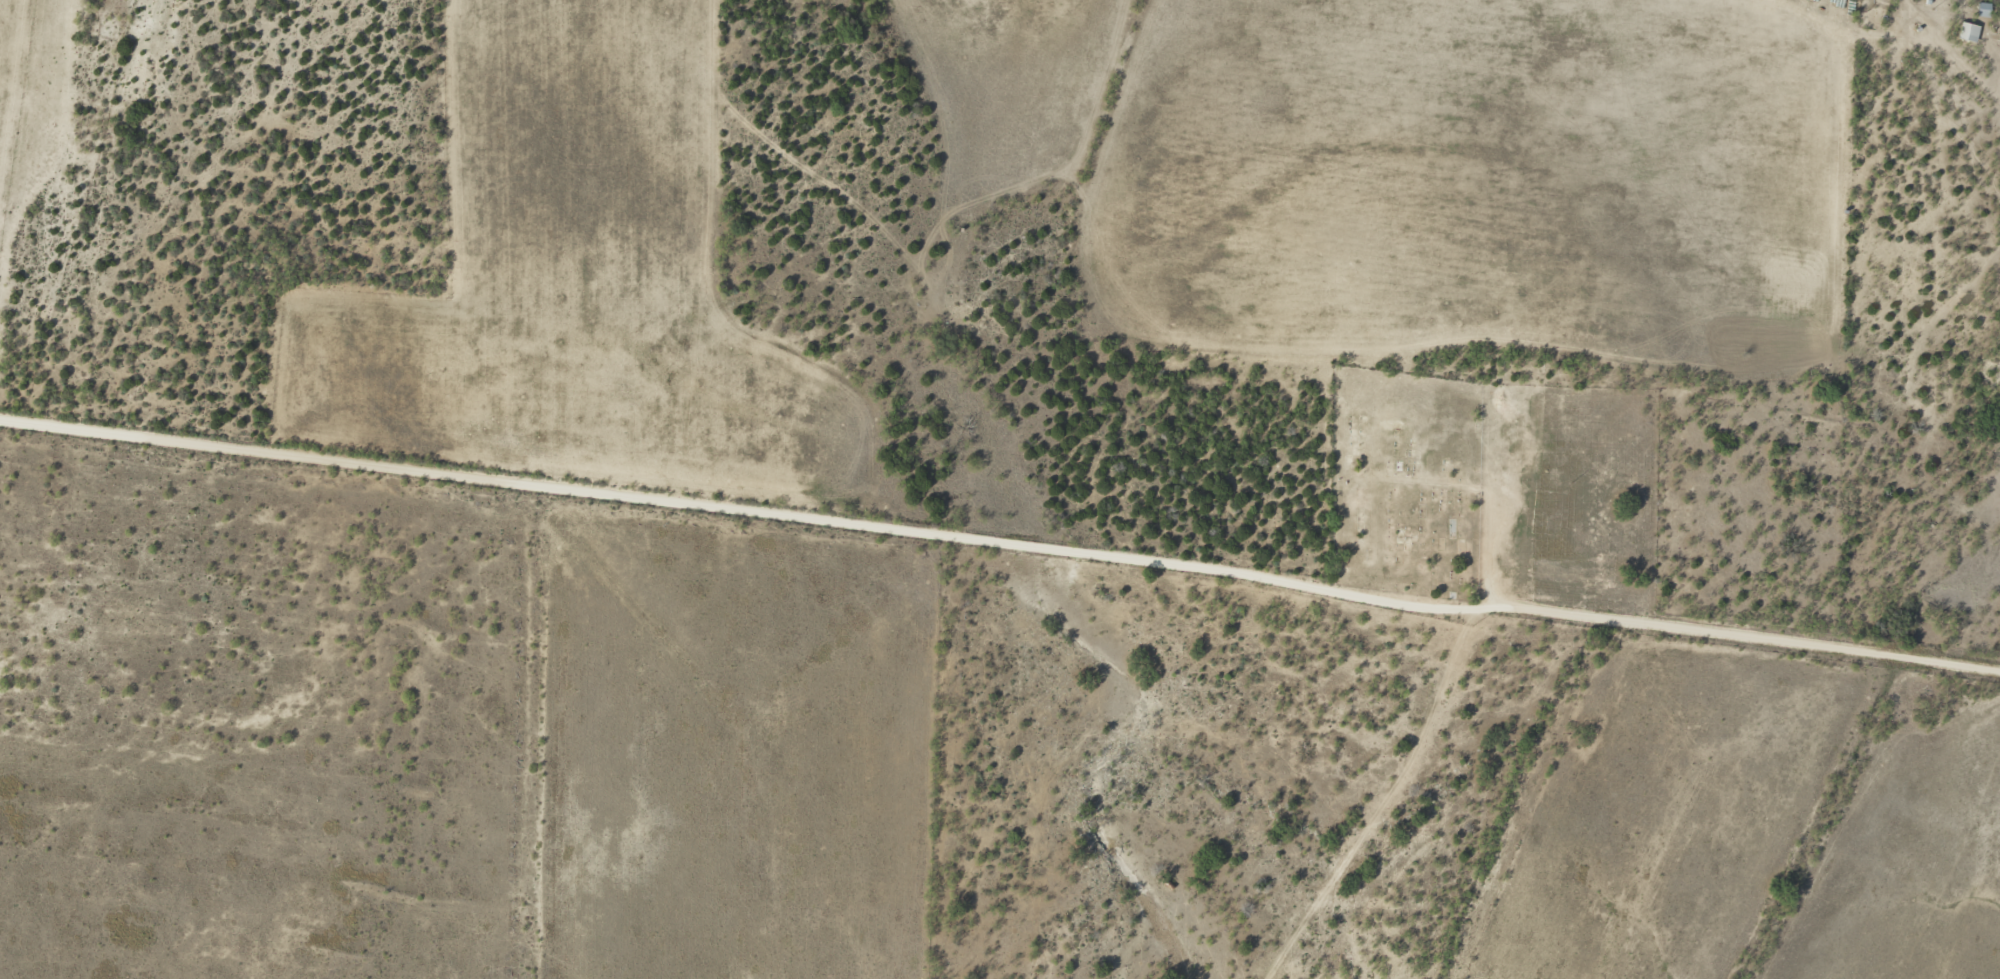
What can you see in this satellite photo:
building: (1983, 10)
building: (1967, 32)
park: (1494, 487)
road: (1001, 542)
road: (1439, 689)

